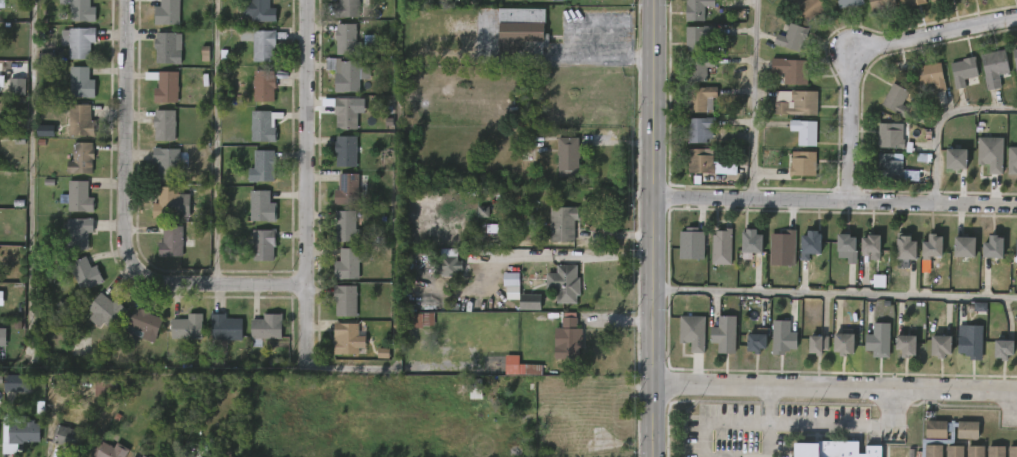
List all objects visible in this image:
building: (559, 0)
building: (930, 0)
building: (934, 0)
building: (910, 2)
building: (2, 3)
building: (846, 3)
building: (878, 3)
building: (807, 7)
building: (347, 9)
building: (698, 9)
building: (82, 10)
building: (265, 11)
building: (169, 12)
building: (521, 29)
building: (791, 37)
building: (699, 38)
building: (347, 40)
building: (82, 42)
building: (263, 42)
building: (168, 48)
road: (869, 54)
building: (1014, 60)
building: (992, 67)
building: (700, 69)
building: (789, 69)
building: (961, 70)
building: (345, 75)
building: (930, 75)
building: (83, 82)
building: (266, 85)
building: (17, 86)
building: (169, 87)
building: (702, 99)
road: (753, 99)
building: (894, 99)
building: (797, 103)
building: (348, 113)
building: (83, 120)
road: (938, 122)
building: (265, 125)
building: (164, 126)
building: (701, 130)
building: (803, 131)
building: (890, 136)
road: (215, 143)
building: (346, 152)
building: (989, 153)
building: (565, 157)
building: (83, 158)
building: (953, 158)
building: (1011, 160)
building: (700, 163)
building: (167, 164)
building: (802, 164)
building: (265, 166)
building: (896, 169)
road: (309, 180)
building: (349, 189)
building: (80, 196)
road: (835, 200)
building: (172, 204)
building: (264, 207)
road: (128, 223)
building: (563, 223)
building: (347, 228)
road: (653, 228)
building: (81, 232)
building: (173, 242)
building: (754, 243)
building: (843, 243)
building: (266, 244)
building: (689, 244)
building: (807, 244)
building: (867, 244)
building: (723, 247)
building: (929, 247)
building: (961, 247)
building: (990, 247)
building: (1015, 247)
building: (781, 248)
building: (901, 251)
building: (347, 264)
building: (408, 265)
building: (450, 265)
building: (87, 273)
building: (562, 283)
building: (511, 286)
road: (834, 294)
building: (346, 299)
building: (530, 302)
building: (411, 303)
building: (107, 309)
building: (420, 319)
building: (145, 323)
building: (187, 327)
building: (226, 327)
building: (270, 327)
building: (690, 332)
building: (722, 335)
building: (2, 337)
building: (781, 337)
building: (350, 340)
building: (566, 340)
building: (877, 341)
building: (846, 342)
building: (752, 343)
building: (970, 343)
building: (818, 344)
building: (903, 345)
building: (940, 346)
building: (1000, 349)
building: (520, 367)
building: (17, 382)
building: (106, 387)
road: (835, 387)
road: (771, 394)
road: (893, 405)
road: (774, 420)
road: (886, 421)
road: (770, 429)
building: (19, 432)
building: (68, 437)
building: (936, 442)
building: (110, 450)
building: (832, 450)
building: (976, 450)
building: (995, 451)
building: (1012, 451)
building: (184, 453)
building: (136, 455)
building: (143, 456)

